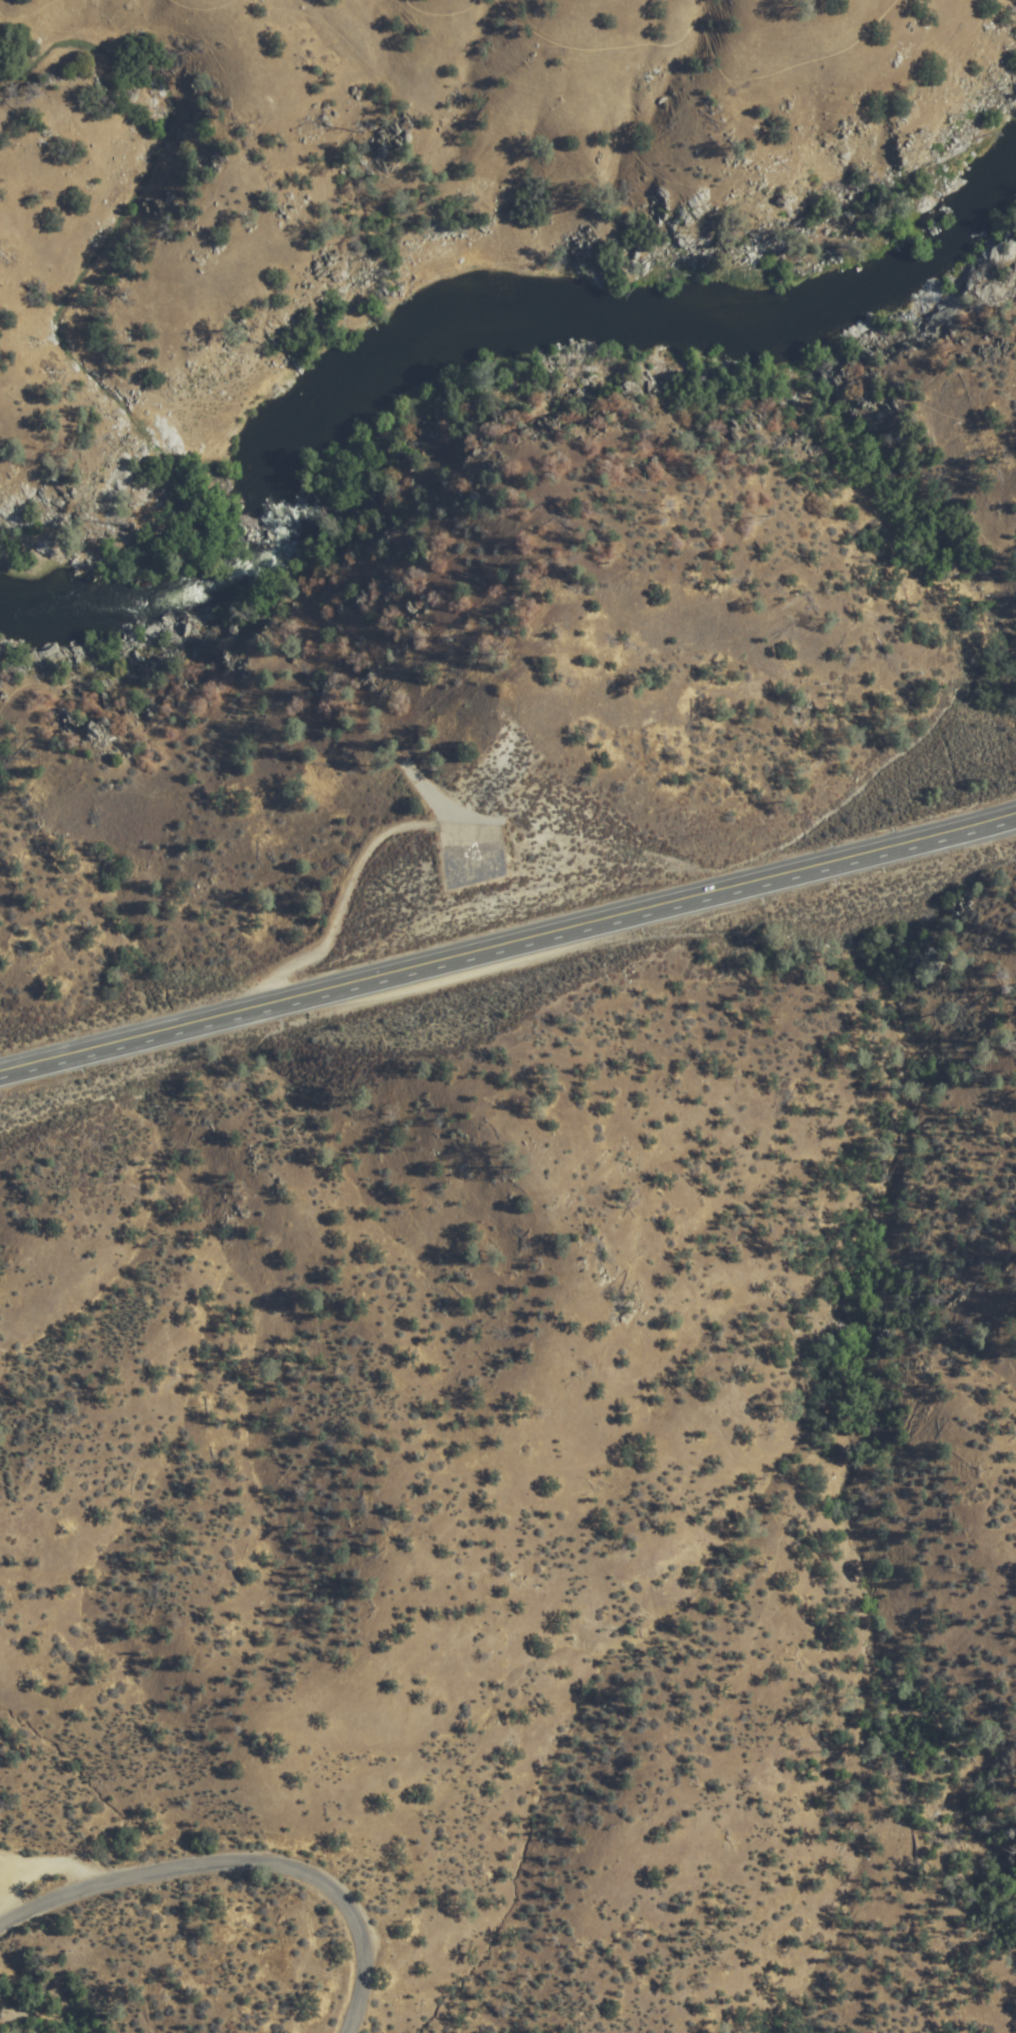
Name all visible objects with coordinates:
road: (204, 7)
road: (440, 12)
road: (29, 15)
road: (707, 37)
river: (937, 247)
river: (834, 313)
river: (501, 327)
river: (136, 601)
road: (508, 943)
road: (239, 1868)

